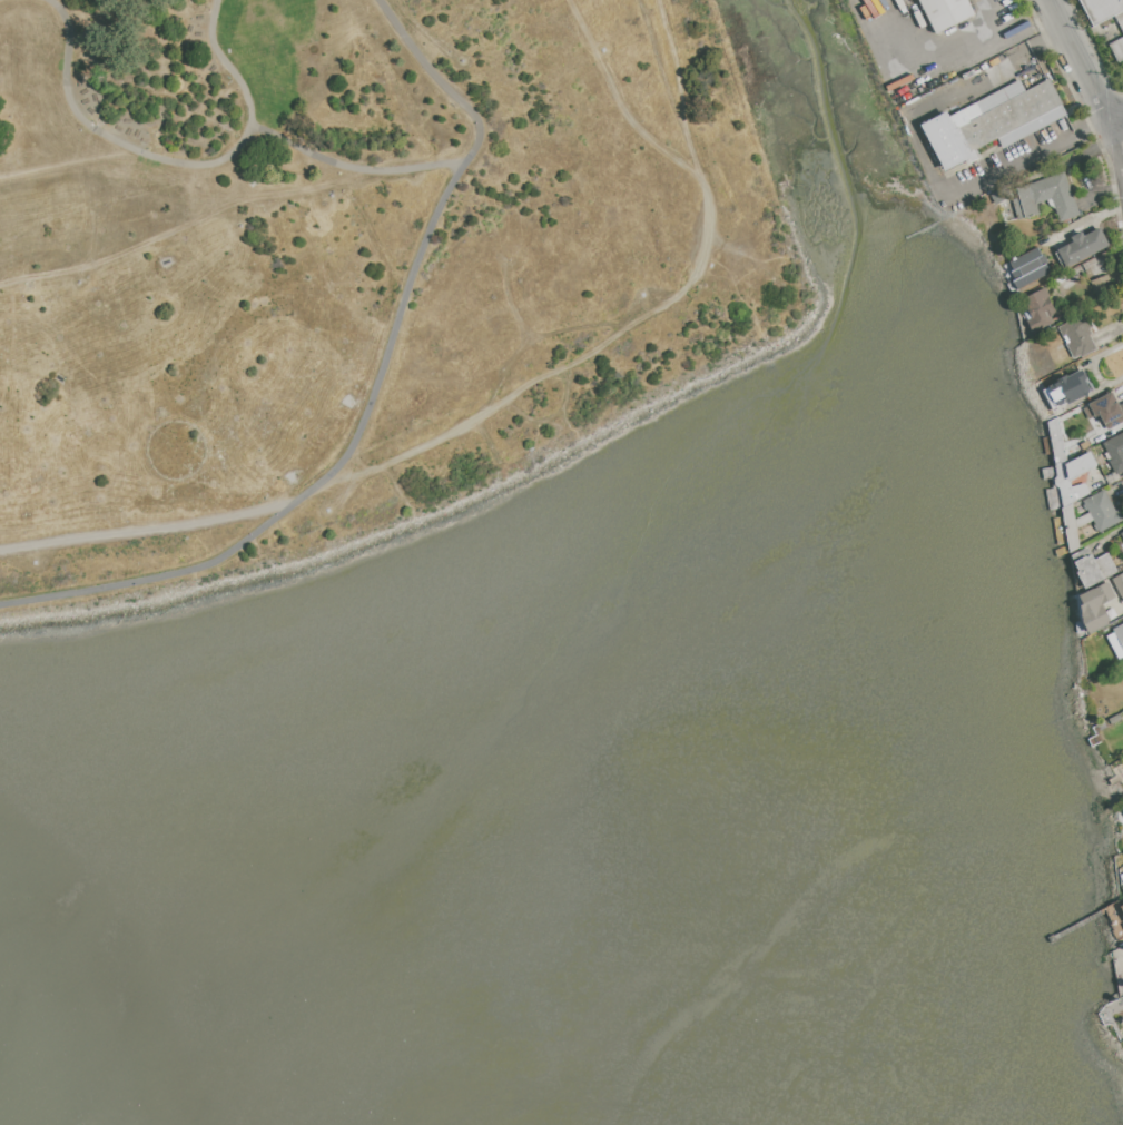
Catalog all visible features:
building: (1104, 10)
building: (946, 12)
road: (1054, 14)
road: (954, 42)
road: (1042, 42)
building: (1117, 49)
road: (1085, 77)
building: (992, 122)
road: (1116, 122)
road: (1094, 130)
road: (1116, 145)
road: (173, 160)
road: (352, 167)
road: (927, 169)
building: (1046, 197)
road: (187, 221)
road: (1085, 221)
building: (1084, 247)
building: (1030, 267)
building: (1105, 282)
building: (1040, 309)
building: (1078, 336)
building: (1067, 389)
road: (372, 395)
road: (501, 406)
building: (1107, 408)
building: (1057, 441)
building: (1115, 452)
building: (1064, 481)
building: (1103, 510)
building: (1074, 525)
building: (1122, 532)
building: (1093, 566)
building: (1119, 583)
building: (1096, 604)
building: (1119, 632)
building: (1122, 807)
building: (1122, 876)
building: (1121, 902)
building: (1122, 906)

